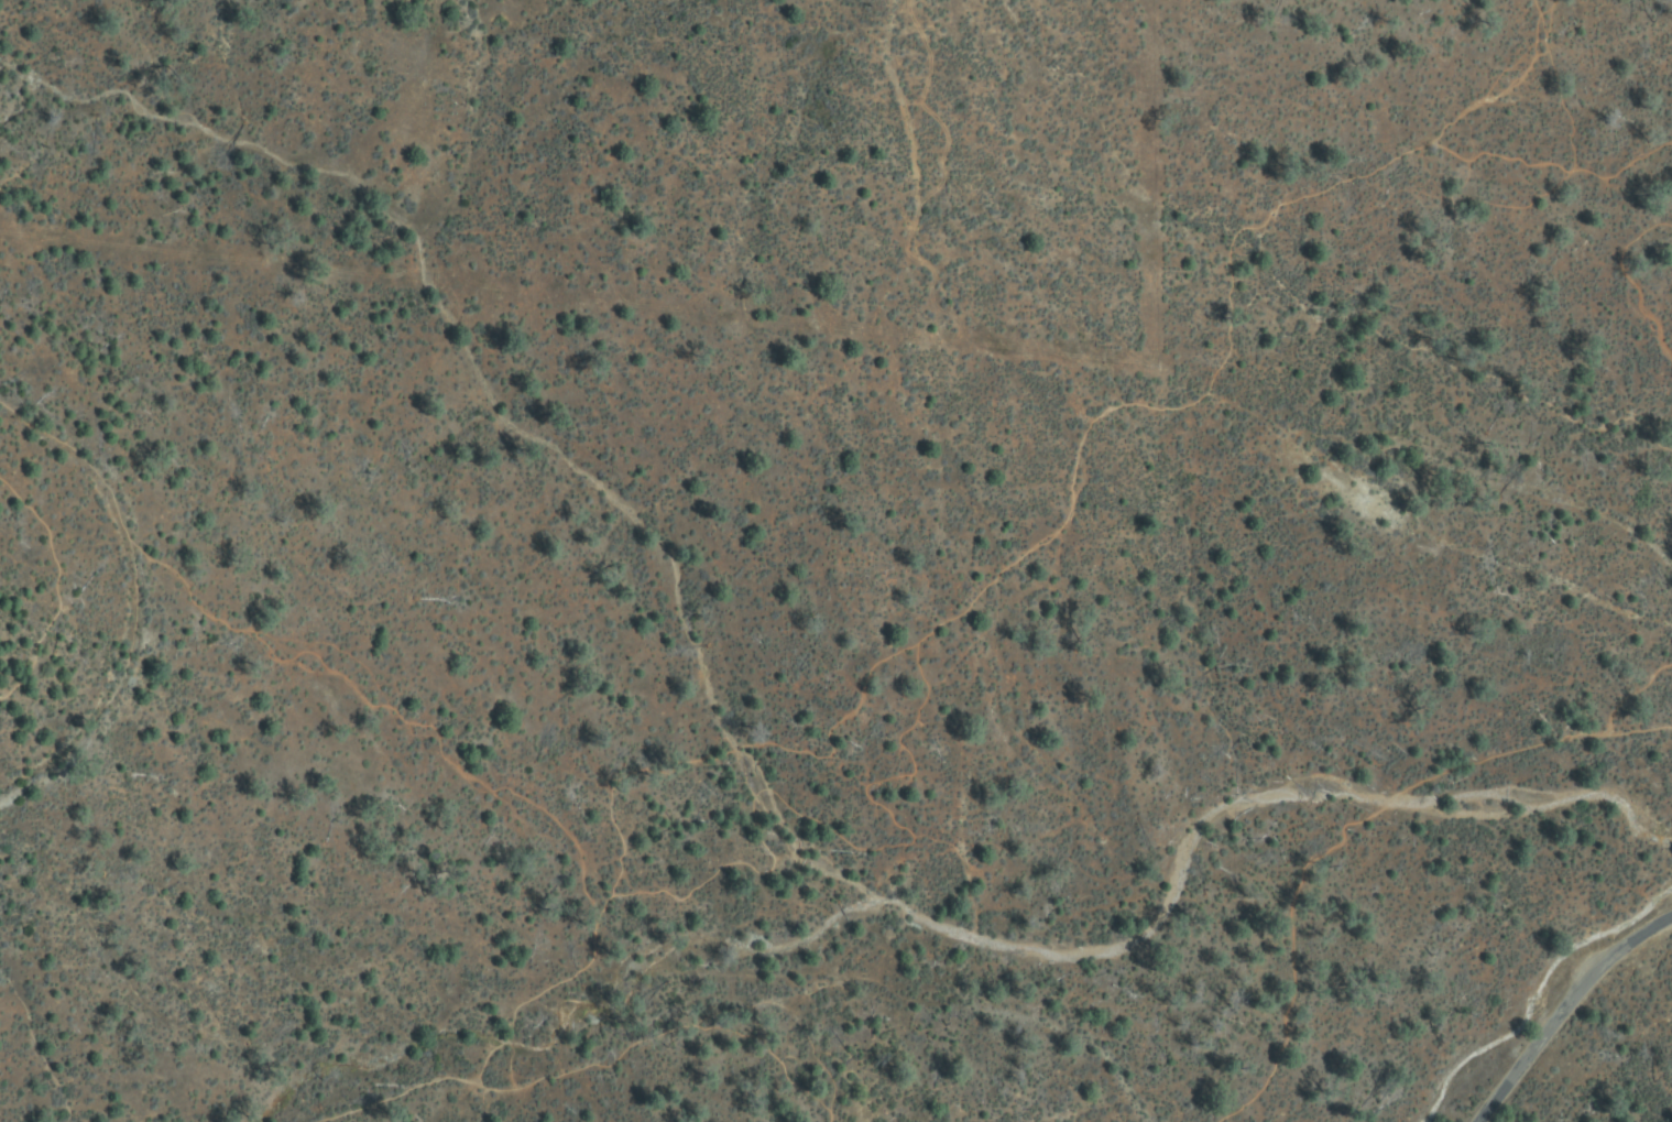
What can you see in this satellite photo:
road: (54, 601)
road: (1552, 998)
road: (758, 1005)

